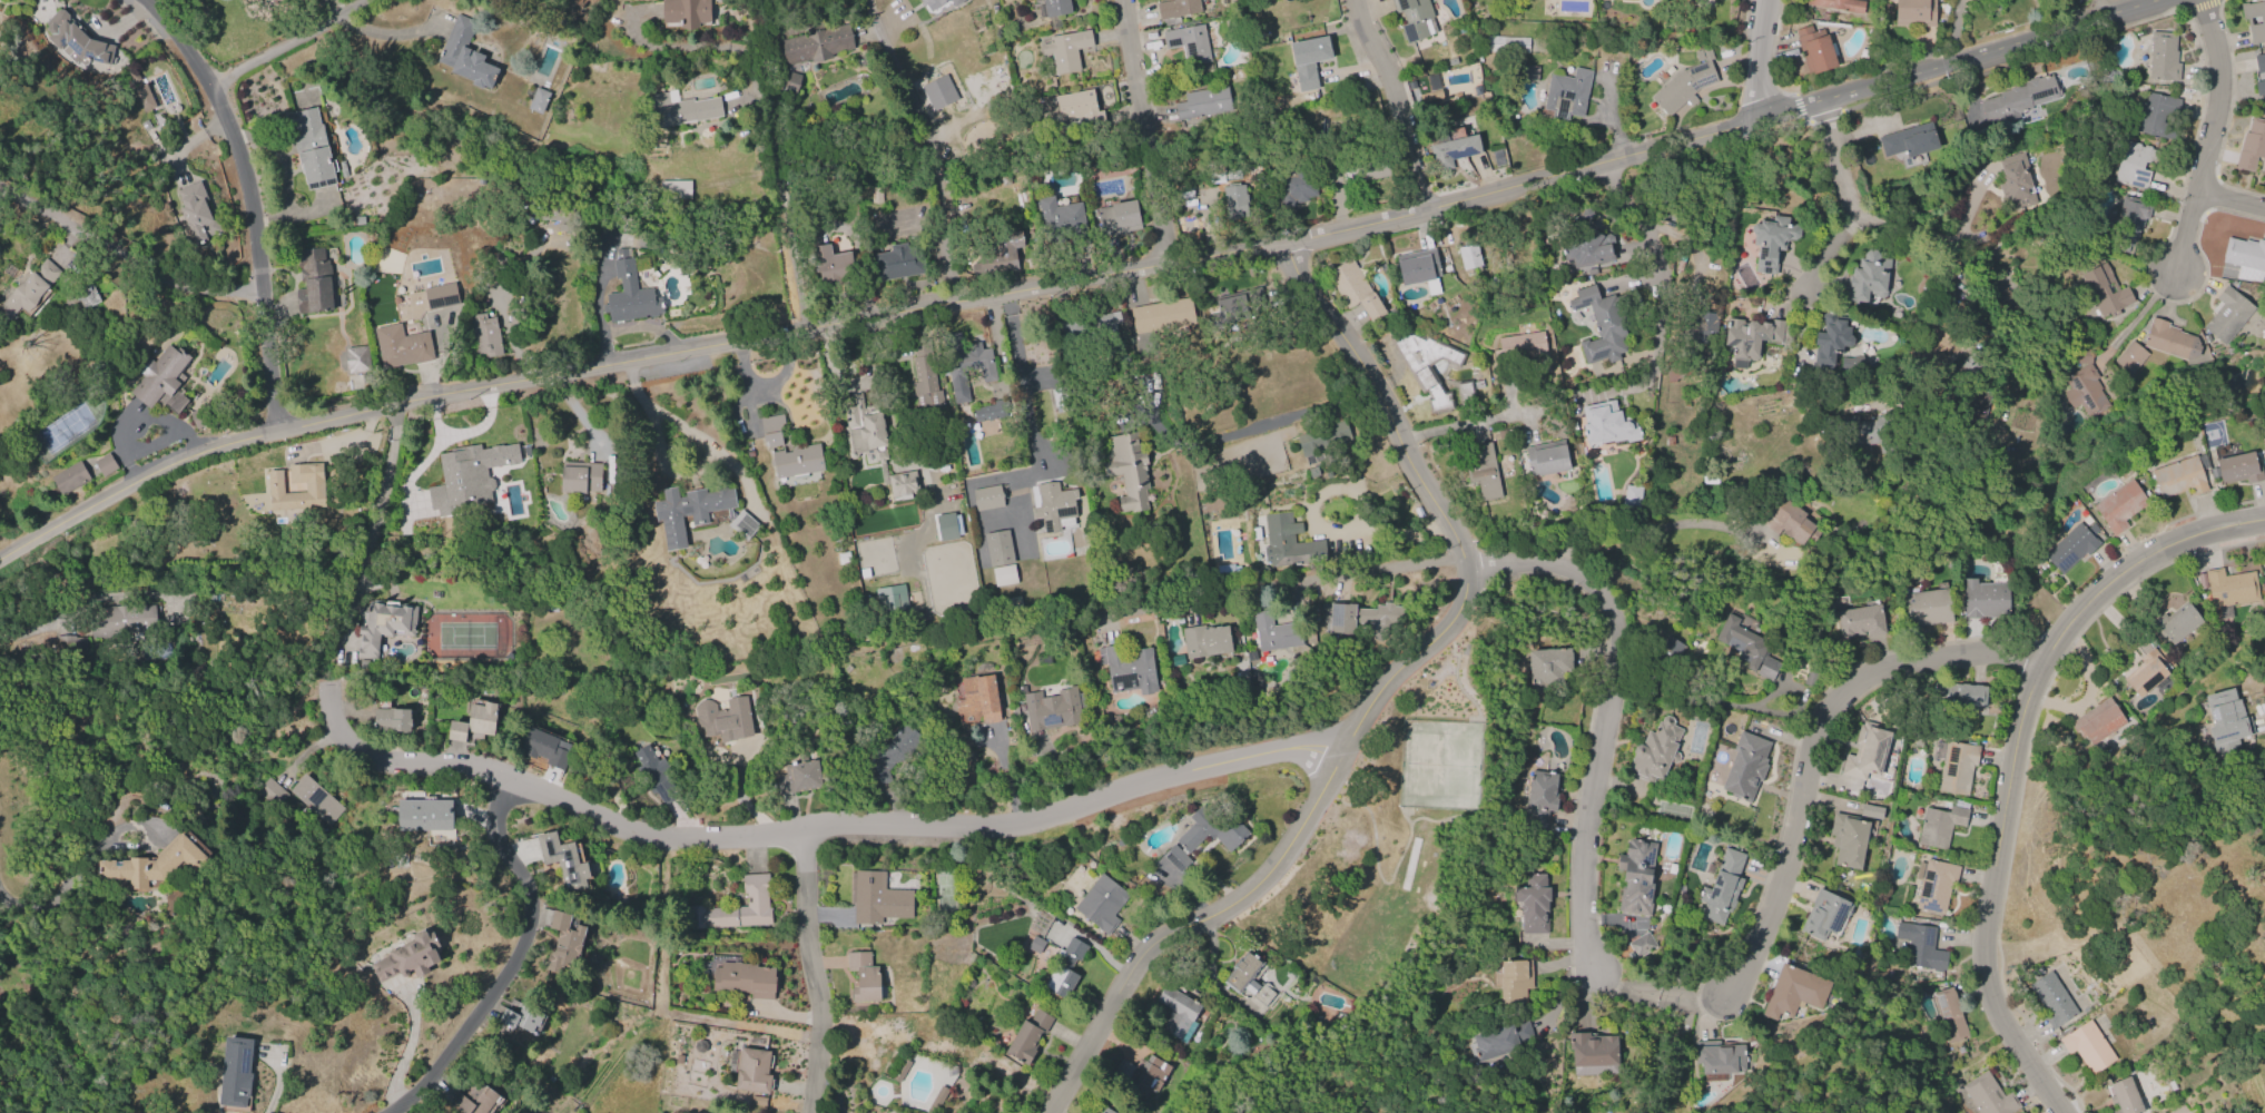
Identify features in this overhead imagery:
building: (954, 1)
building: (932, 3)
building: (1838, 4)
building: (1175, 8)
building: (1055, 11)
building: (686, 12)
building: (1914, 12)
building: (1415, 19)
building: (2254, 20)
road: (1954, 30)
road: (391, 33)
building: (76, 41)
road: (289, 45)
building: (816, 45)
building: (1504, 46)
building: (1190, 47)
building: (1066, 50)
building: (1814, 52)
building: (464, 55)
building: (2163, 56)
building: (1307, 61)
road: (1759, 61)
building: (2259, 62)
building: (1528, 73)
building: (786, 82)
building: (1685, 82)
building: (2259, 87)
building: (939, 92)
building: (1566, 95)
building: (142, 98)
building: (2019, 98)
building: (538, 100)
building: (1203, 102)
road: (1396, 102)
building: (1074, 104)
building: (682, 109)
road: (762, 110)
building: (2160, 117)
road: (1148, 132)
road: (2210, 138)
building: (1909, 140)
building: (2252, 145)
road: (925, 148)
building: (312, 149)
building: (1450, 149)
building: (2133, 162)
building: (1376, 169)
building: (2015, 181)
building: (1296, 187)
building: (674, 189)
building: (875, 195)
building: (1234, 200)
road: (249, 201)
road: (2232, 203)
road: (1850, 206)
building: (1057, 211)
building: (196, 214)
building: (555, 214)
building: (1117, 218)
building: (2128, 221)
building: (1771, 242)
building: (1587, 244)
road: (126, 256)
building: (999, 256)
building: (1469, 257)
building: (2246, 258)
road: (1826, 259)
building: (897, 262)
building: (829, 263)
building: (1418, 266)
road: (1658, 278)
building: (1867, 278)
building: (313, 282)
road: (1072, 282)
building: (30, 290)
building: (1353, 290)
building: (2104, 290)
building: (629, 294)
building: (86, 296)
building: (441, 296)
road: (1943, 299)
building: (2006, 301)
building: (1237, 309)
building: (518, 315)
road: (2135, 315)
building: (2227, 315)
building: (1162, 316)
building: (1106, 324)
building: (1599, 326)
building: (1704, 326)
building: (484, 335)
building: (1752, 338)
building: (2170, 341)
building: (1829, 342)
building: (402, 346)
building: (1520, 346)
building: (2130, 356)
building: (356, 358)
building: (965, 364)
building: (1426, 364)
building: (924, 377)
road: (1021, 377)
building: (163, 378)
building: (2084, 384)
road: (1506, 390)
building: (1466, 392)
building: (1058, 400)
road: (1388, 402)
building: (992, 410)
building: (1977, 411)
building: (197, 417)
road: (1475, 422)
building: (1607, 423)
building: (771, 430)
building: (864, 430)
road: (691, 431)
building: (1861, 431)
building: (1323, 437)
building: (1547, 457)
building: (796, 461)
building: (105, 465)
road: (664, 465)
building: (1127, 469)
building: (2238, 469)
building: (1312, 472)
building: (1484, 472)
building: (467, 475)
building: (580, 476)
building: (2180, 476)
building: (69, 477)
building: (903, 483)
building: (314, 487)
road: (381, 493)
building: (987, 496)
building: (1631, 498)
building: (1053, 505)
building: (1568, 505)
building: (2119, 505)
building: (697, 513)
building: (1789, 522)
building: (946, 526)
road: (1658, 526)
building: (1290, 544)
building: (2070, 546)
building: (997, 548)
building: (843, 558)
building: (2264, 563)
road: (2134, 564)
building: (1004, 575)
road: (1279, 587)
building: (2227, 589)
building: (892, 600)
building: (1986, 600)
building: (1928, 607)
building: (1365, 619)
building: (1860, 622)
building: (121, 623)
building: (2176, 623)
building: (383, 624)
building: (1274, 633)
building: (1204, 641)
building: (1743, 643)
building: (1672, 649)
building: (2145, 666)
building: (1126, 669)
building: (1547, 669)
building: (1767, 669)
building: (1811, 676)
building: (1958, 695)
building: (978, 698)
building: (1051, 709)
road: (1606, 713)
building: (723, 719)
building: (392, 720)
road: (2264, 720)
building: (474, 721)
building: (2226, 721)
building: (2096, 722)
building: (546, 747)
road: (1815, 750)
building: (1655, 751)
building: (1865, 751)
building: (889, 754)
building: (1745, 766)
building: (1956, 766)
building: (654, 775)
building: (798, 777)
building: (269, 792)
building: (1540, 798)
building: (316, 799)
building: (1870, 811)
building: (422, 815)
building: (1939, 825)
road: (815, 827)
building: (1211, 828)
building: (1848, 839)
building: (563, 860)
road: (1278, 860)
building: (154, 864)
building: (1166, 869)
building: (1636, 877)
building: (1934, 885)
building: (1722, 887)
road: (58, 890)
road: (1991, 897)
building: (878, 898)
building: (1101, 903)
building: (1533, 904)
building: (737, 907)
building: (1824, 915)
building: (1035, 944)
building: (1642, 946)
building: (1920, 946)
building: (562, 947)
building: (408, 957)
road: (513, 962)
building: (1064, 968)
road: (814, 972)
building: (863, 977)
building: (1247, 977)
building: (745, 979)
building: (1514, 981)
building: (1792, 993)
road: (1658, 996)
building: (2050, 998)
building: (1178, 1013)
building: (1950, 1015)
building: (521, 1018)
building: (1027, 1036)
building: (1499, 1040)
building: (2088, 1047)
building: (1592, 1053)
building: (1719, 1057)
building: (752, 1070)
building: (900, 1070)
building: (235, 1073)
building: (1143, 1075)
road: (276, 1086)
building: (1987, 1094)
building: (2124, 1097)
building: (474, 1099)
building: (936, 1100)
building: (757, 1101)
building: (1105, 1111)

